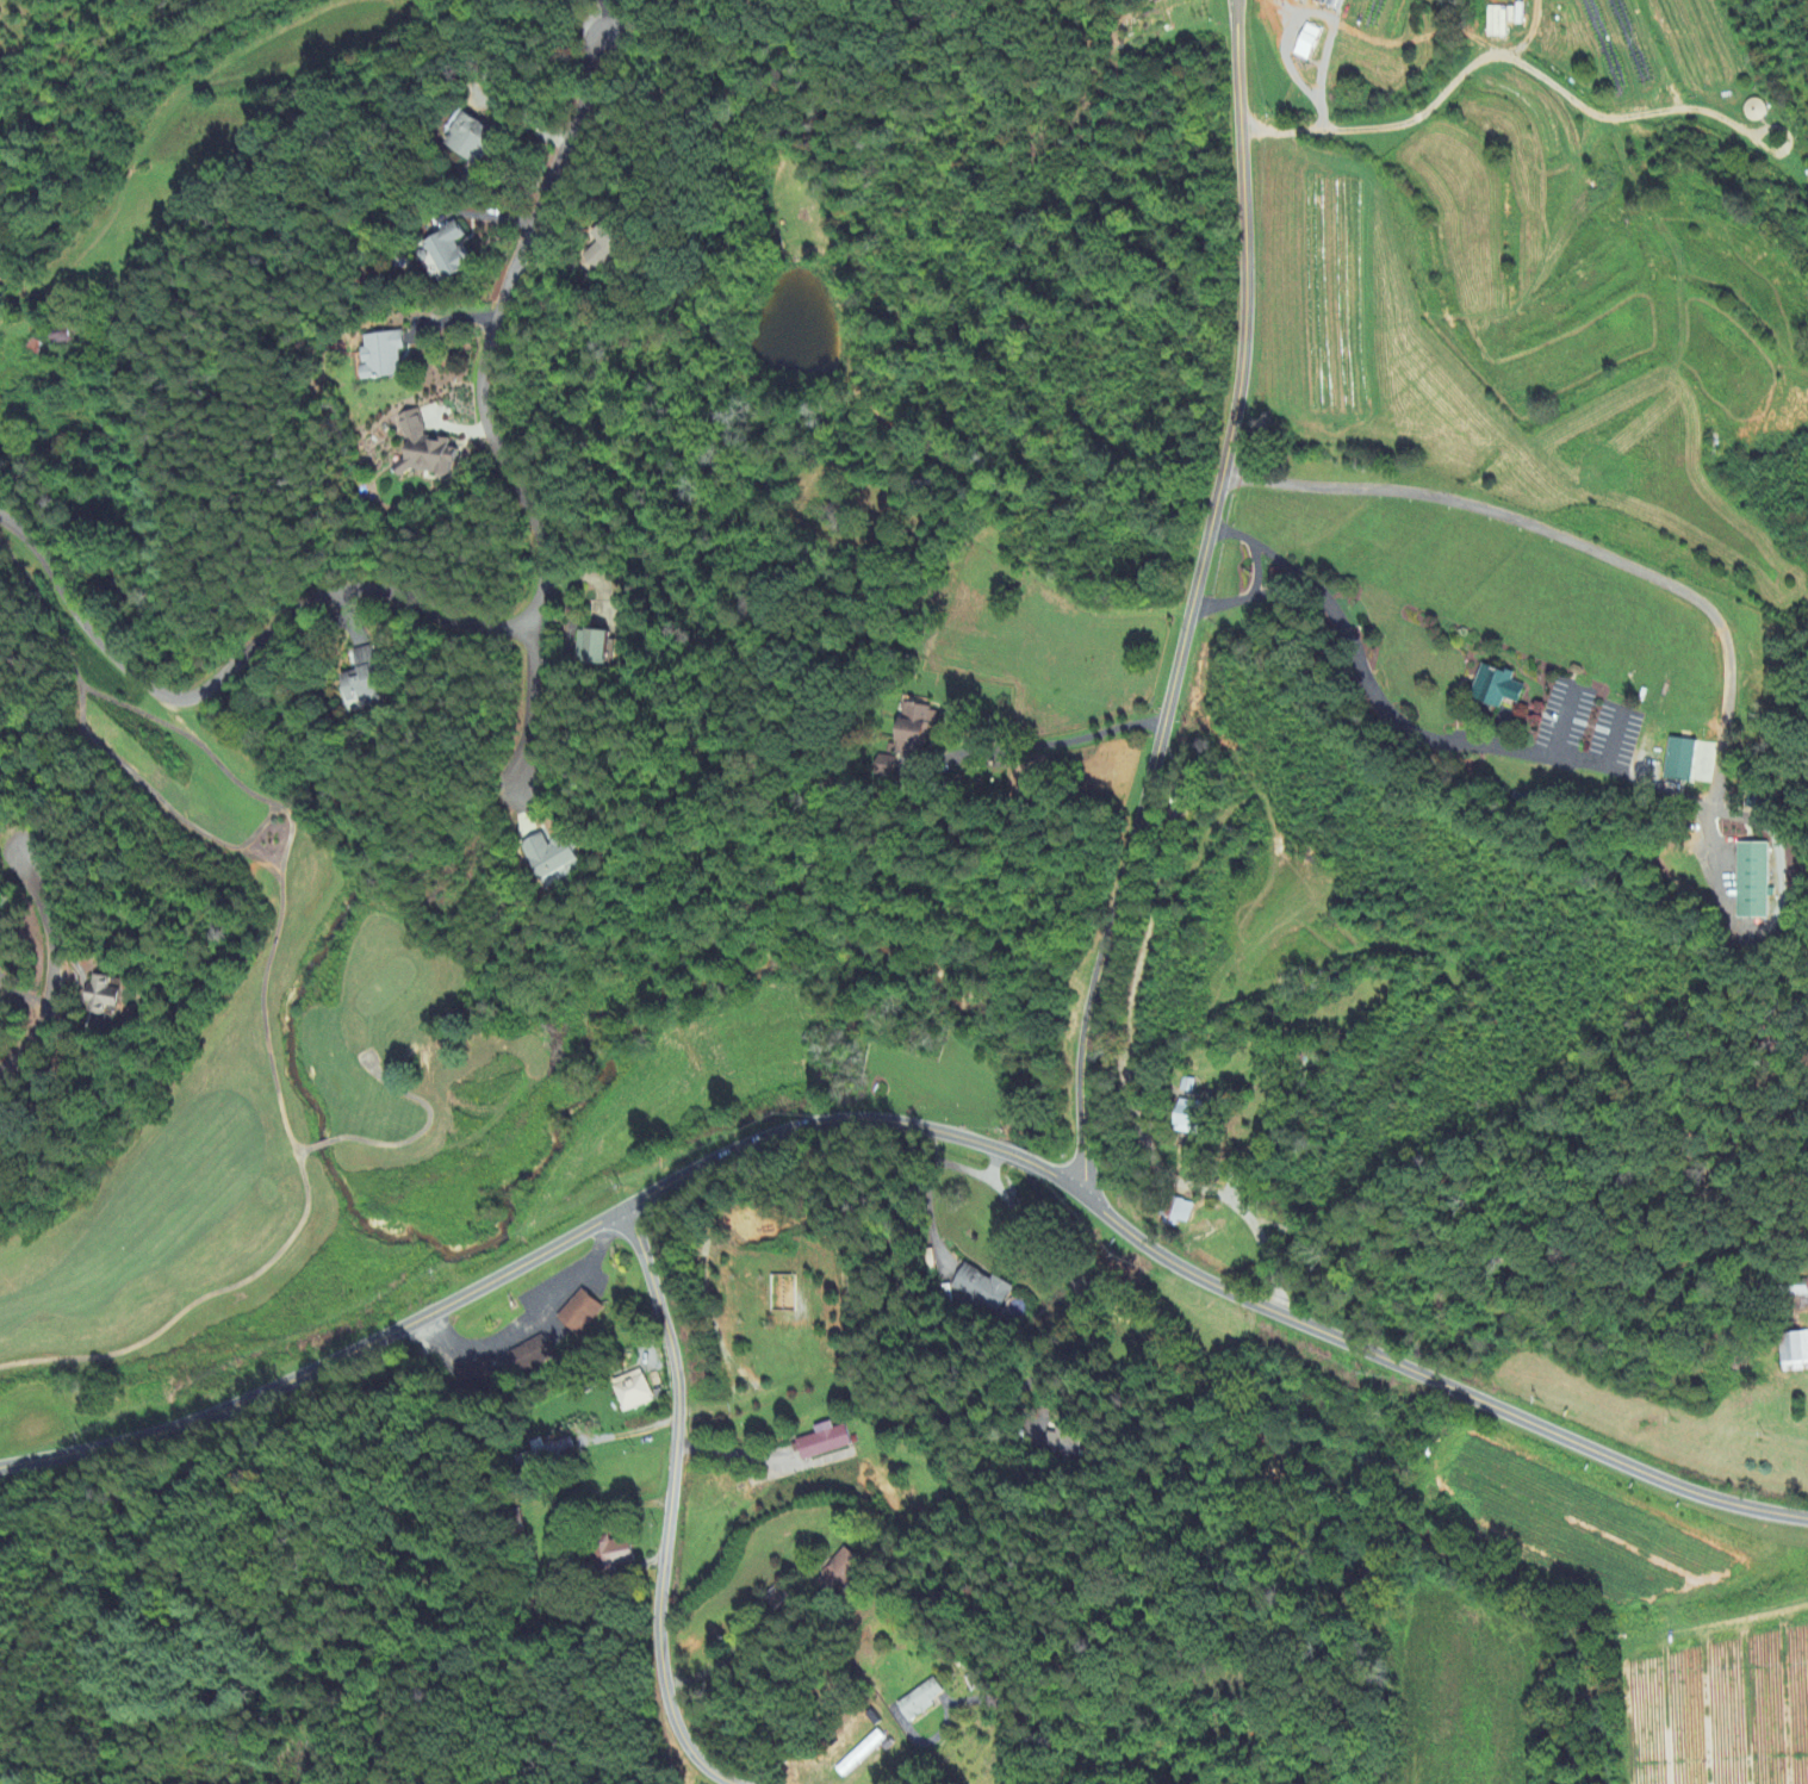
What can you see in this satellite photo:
building: (1335, 4)
building: (1498, 24)
road: (1421, 119)
building: (472, 139)
building: (608, 249)
building: (452, 254)
road: (496, 328)
building: (386, 358)
building: (427, 452)
road: (1598, 546)
road: (1266, 549)
road: (1199, 602)
building: (597, 647)
road: (229, 669)
building: (364, 682)
building: (1491, 688)
road: (1377, 691)
road: (546, 707)
road: (1564, 721)
building: (918, 733)
road: (1067, 739)
road: (1614, 739)
building: (1677, 760)
building: (1027, 795)
building: (1750, 881)
road: (1779, 903)
road: (44, 968)
building: (104, 999)
park: (163, 1011)
building: (1188, 1119)
road: (909, 1124)
road: (1074, 1282)
building: (981, 1289)
building: (784, 1294)
building: (580, 1313)
road: (533, 1316)
building: (1795, 1353)
building: (530, 1355)
building: (477, 1374)
building: (634, 1392)
building: (826, 1443)
building: (1063, 1446)
building: (539, 1450)
road: (731, 1450)
road: (669, 1506)
building: (840, 1573)
building: (778, 1606)
building: (922, 1702)
building: (863, 1755)

